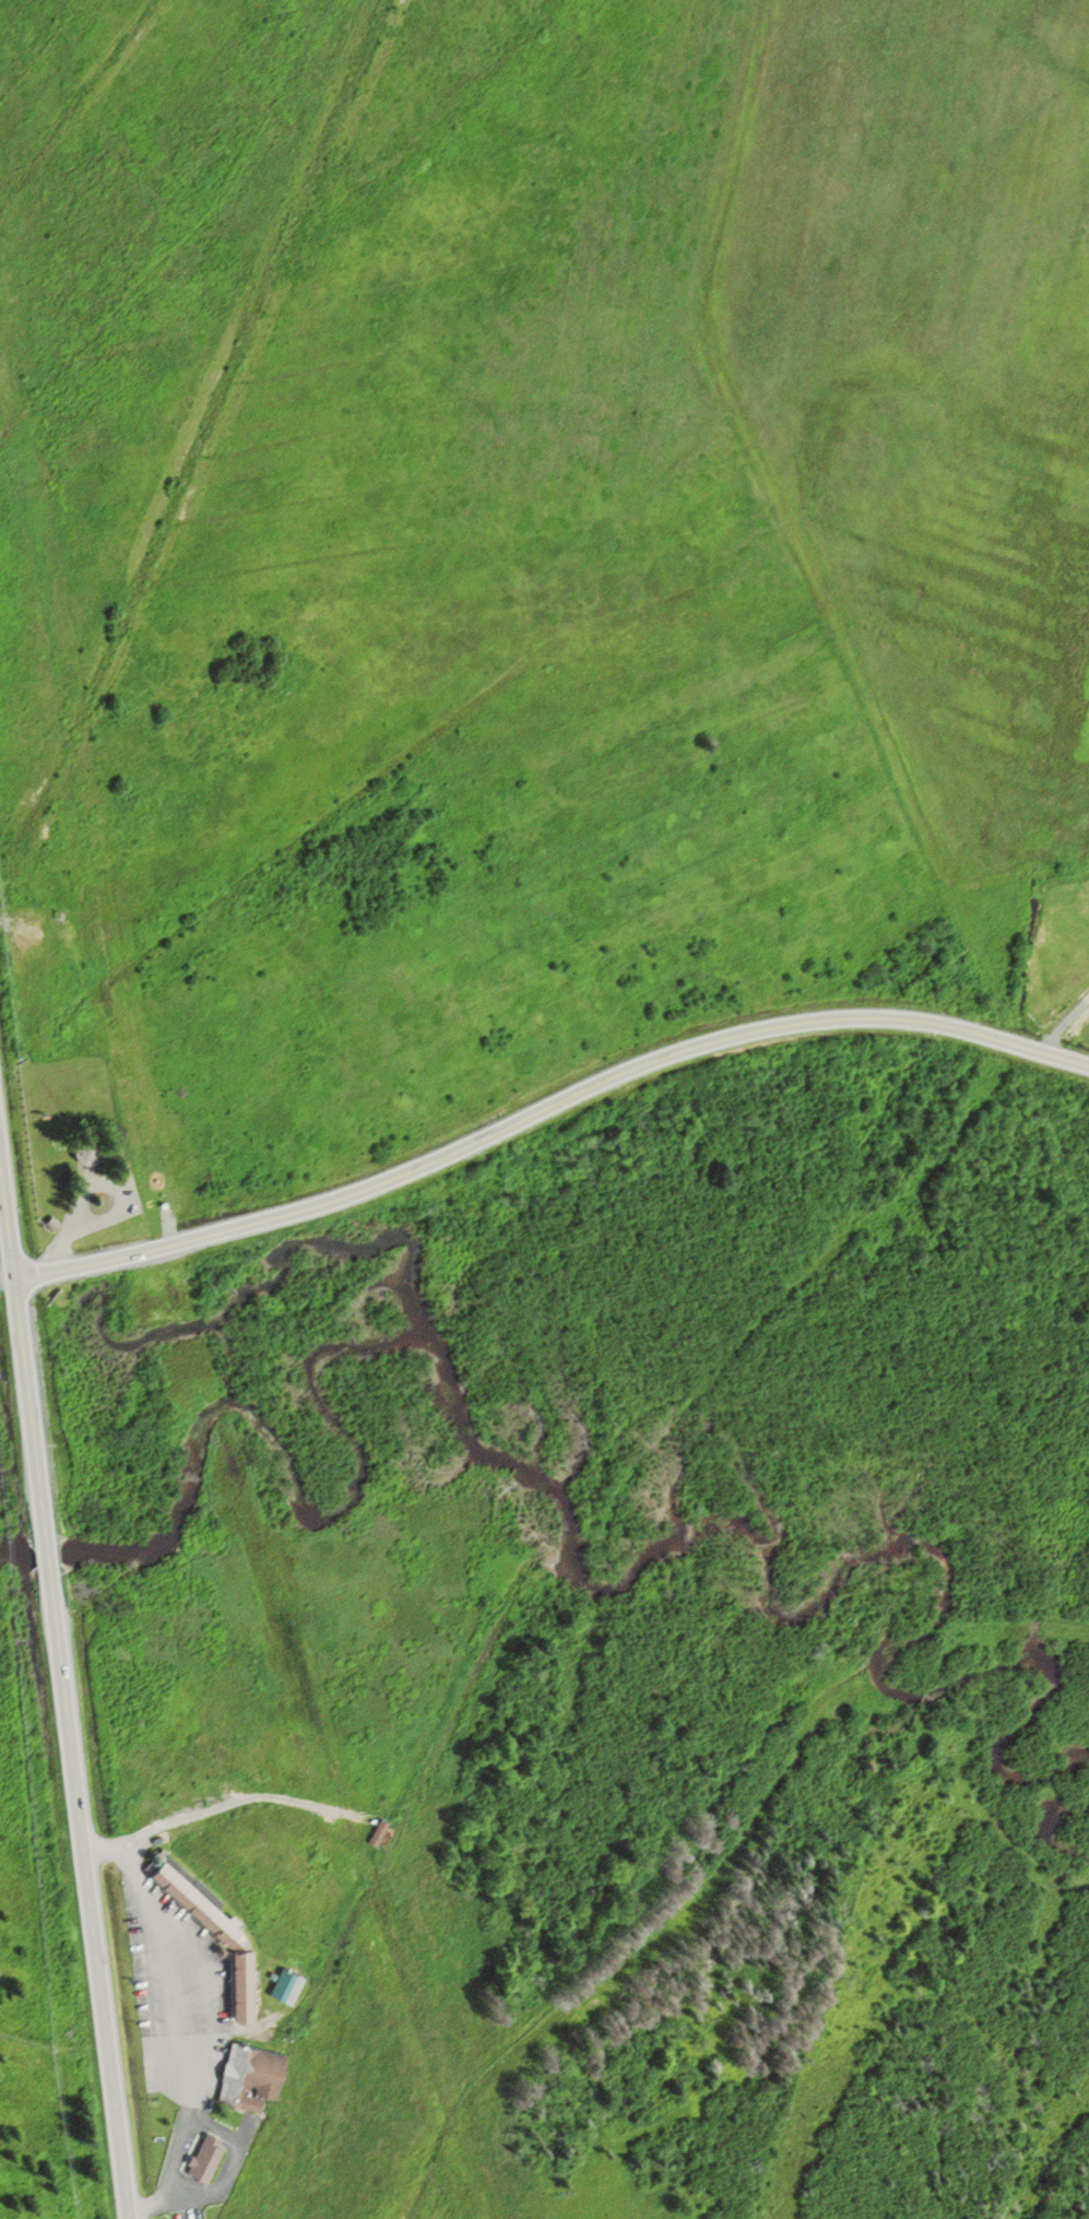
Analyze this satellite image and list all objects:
road: (1063, 1026)
road: (547, 1111)
road: (7, 1279)
river: (47, 1553)
river: (17, 1559)
river: (581, 1578)
road: (64, 1695)
river: (1047, 1822)
building: (376, 1833)
building: (234, 1943)
building: (285, 1987)
road: (198, 2002)
building: (248, 2077)
road: (215, 2127)
building: (202, 2158)
road: (222, 2182)

